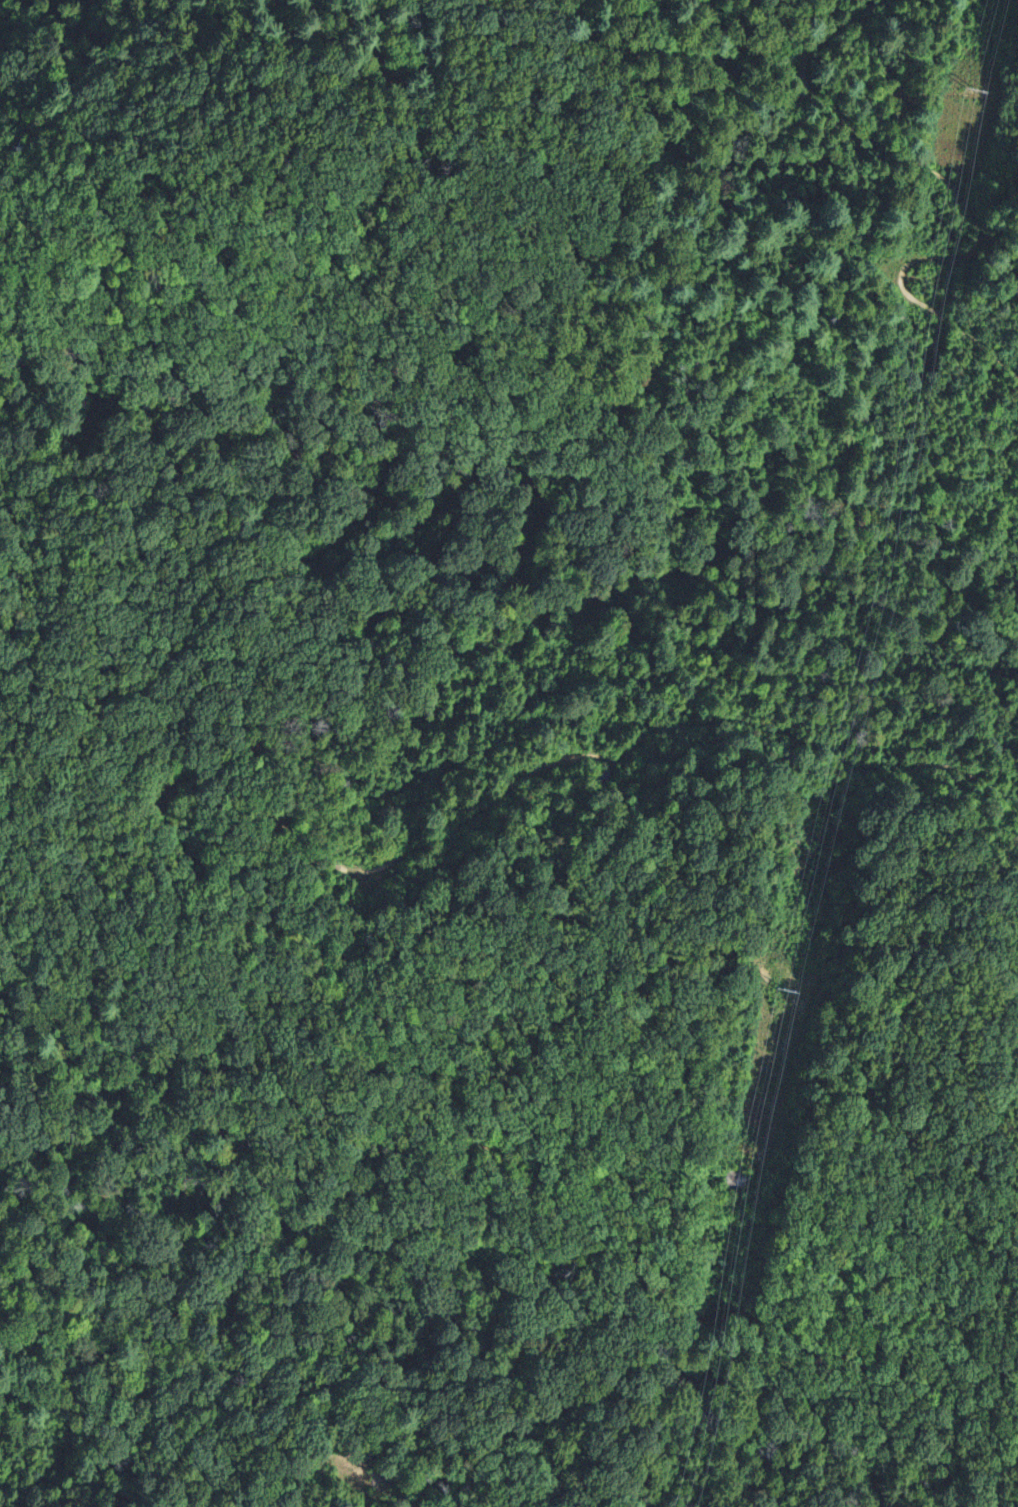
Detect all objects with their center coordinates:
power tower: (971, 87)
power tower: (922, 320)
power tower: (780, 988)

